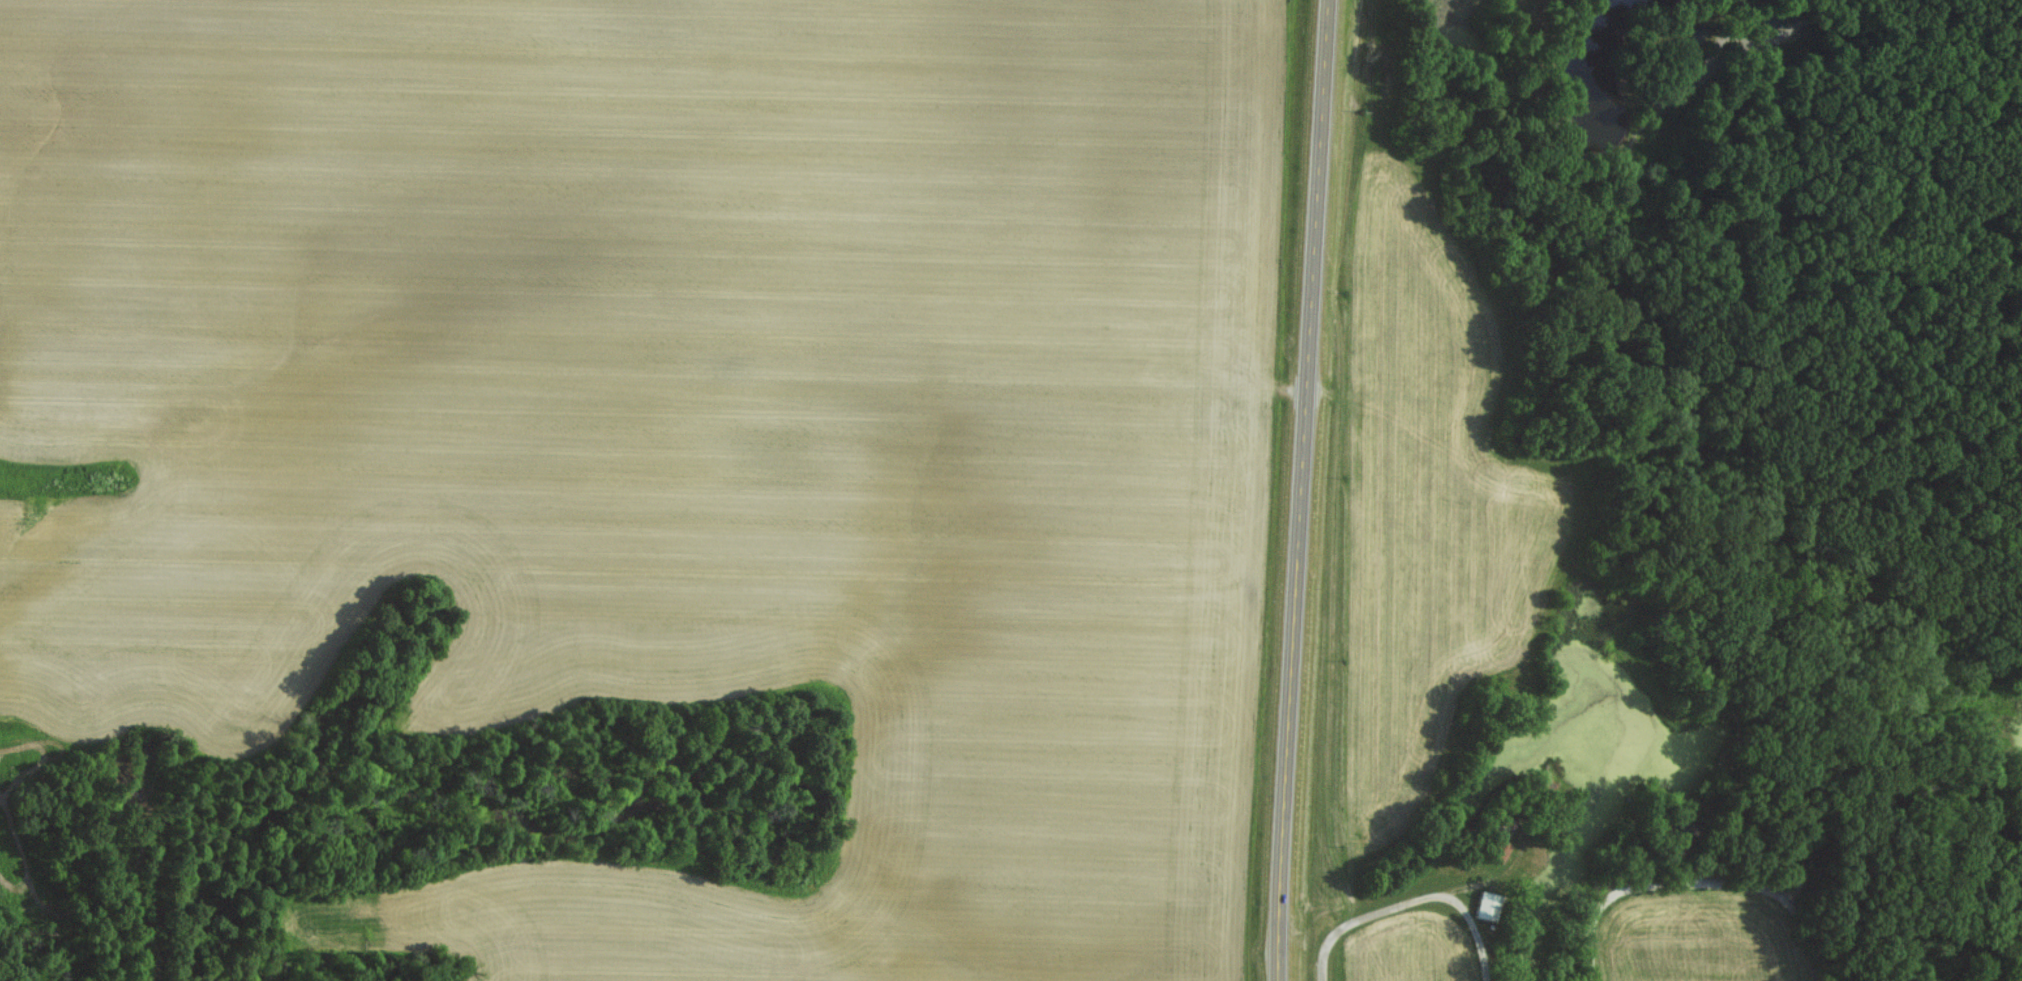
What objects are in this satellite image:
building: (1769, 17)
building: (1694, 39)
road: (1301, 490)
building: (1501, 848)
road: (1696, 883)
road: (1413, 901)
building: (1488, 904)

